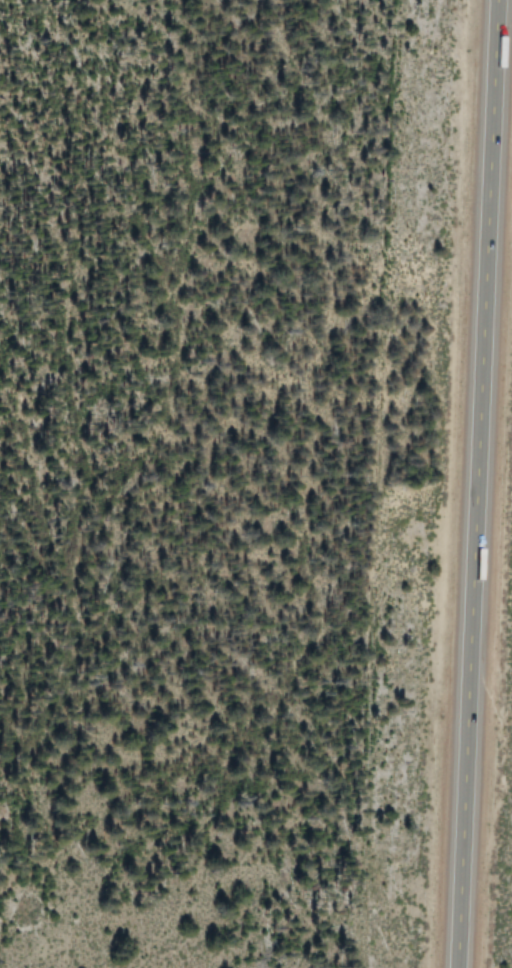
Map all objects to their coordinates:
road: (474, 484)

